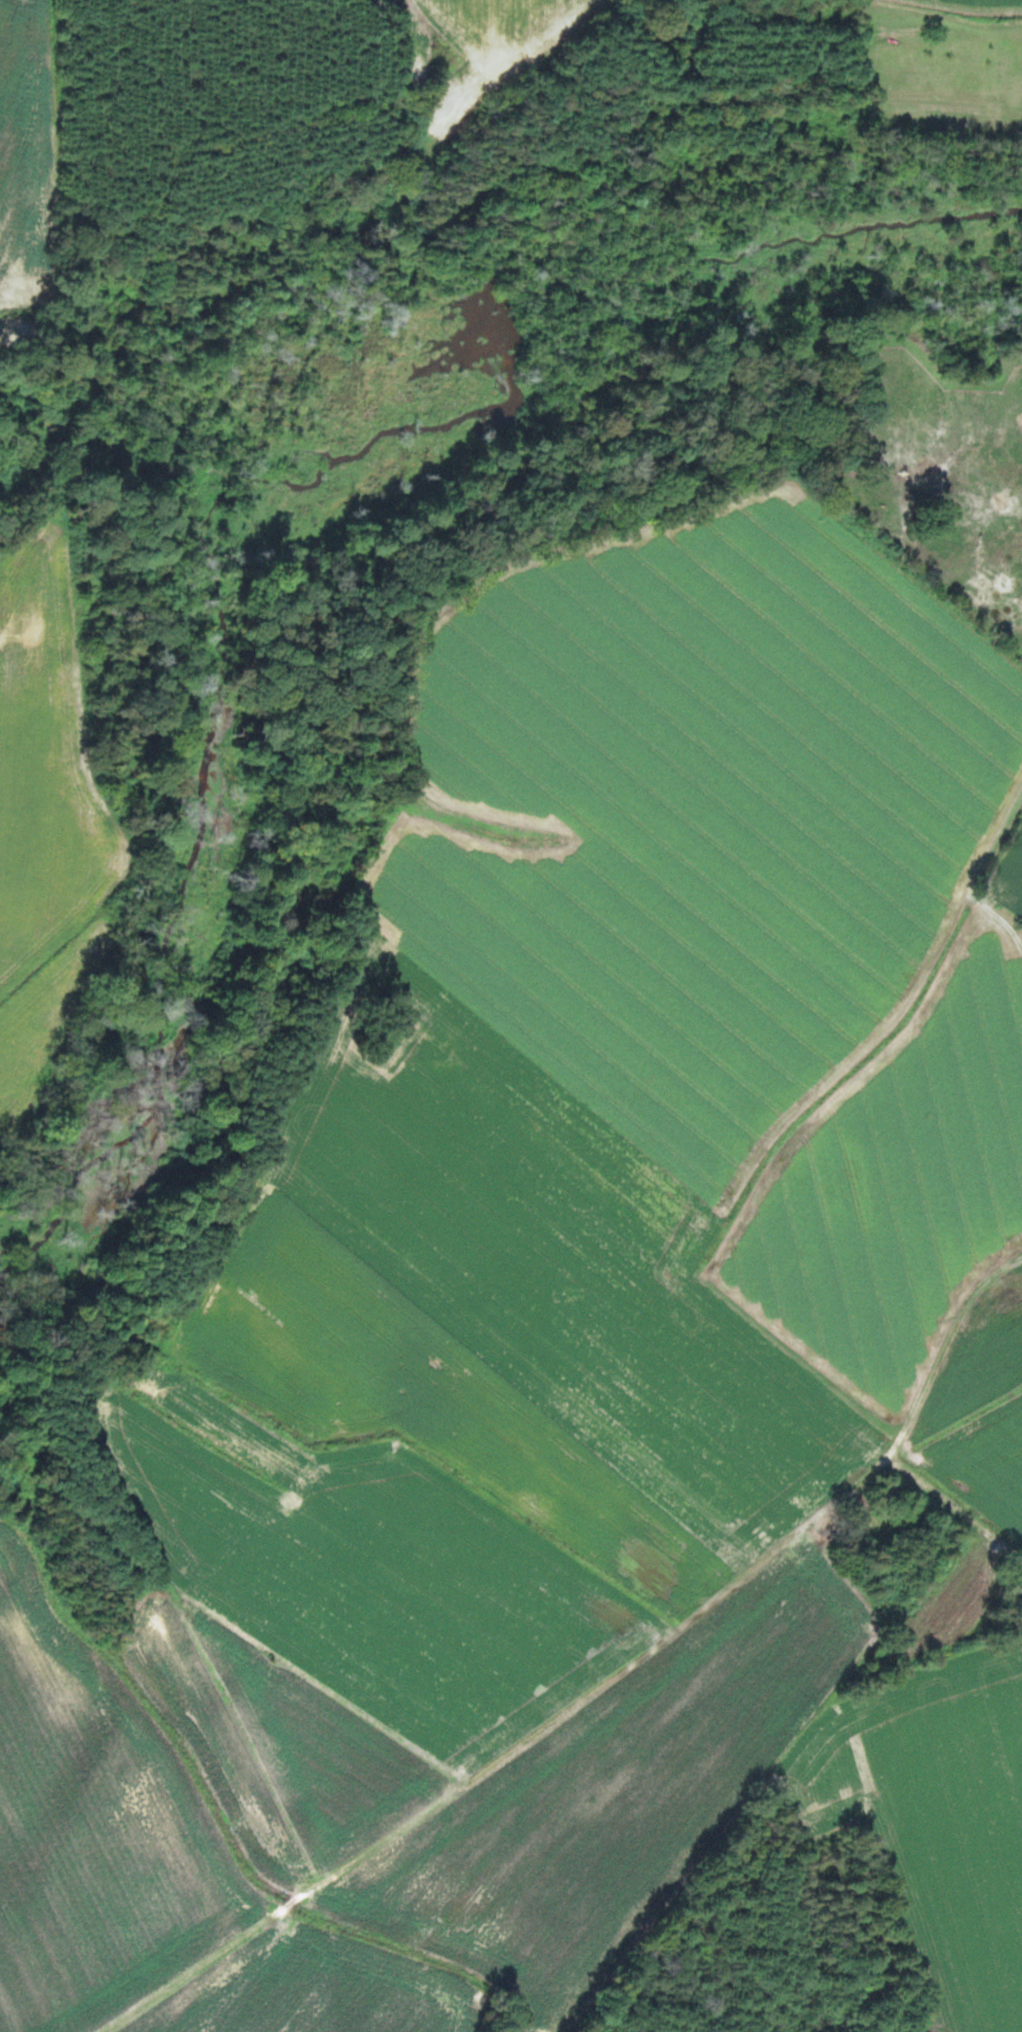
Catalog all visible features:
road: (954, 1337)

